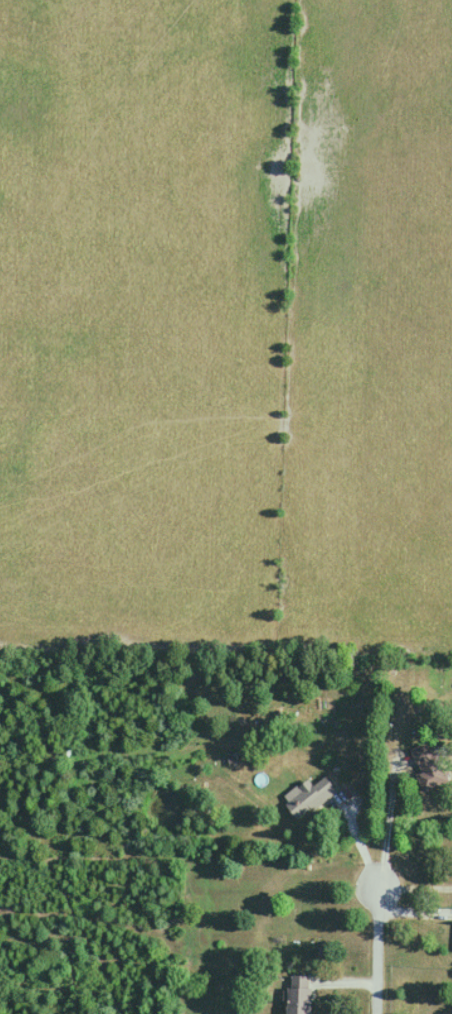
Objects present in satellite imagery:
building: (309, 797)
road: (386, 819)
road: (358, 841)
road: (374, 952)
building: (299, 995)

